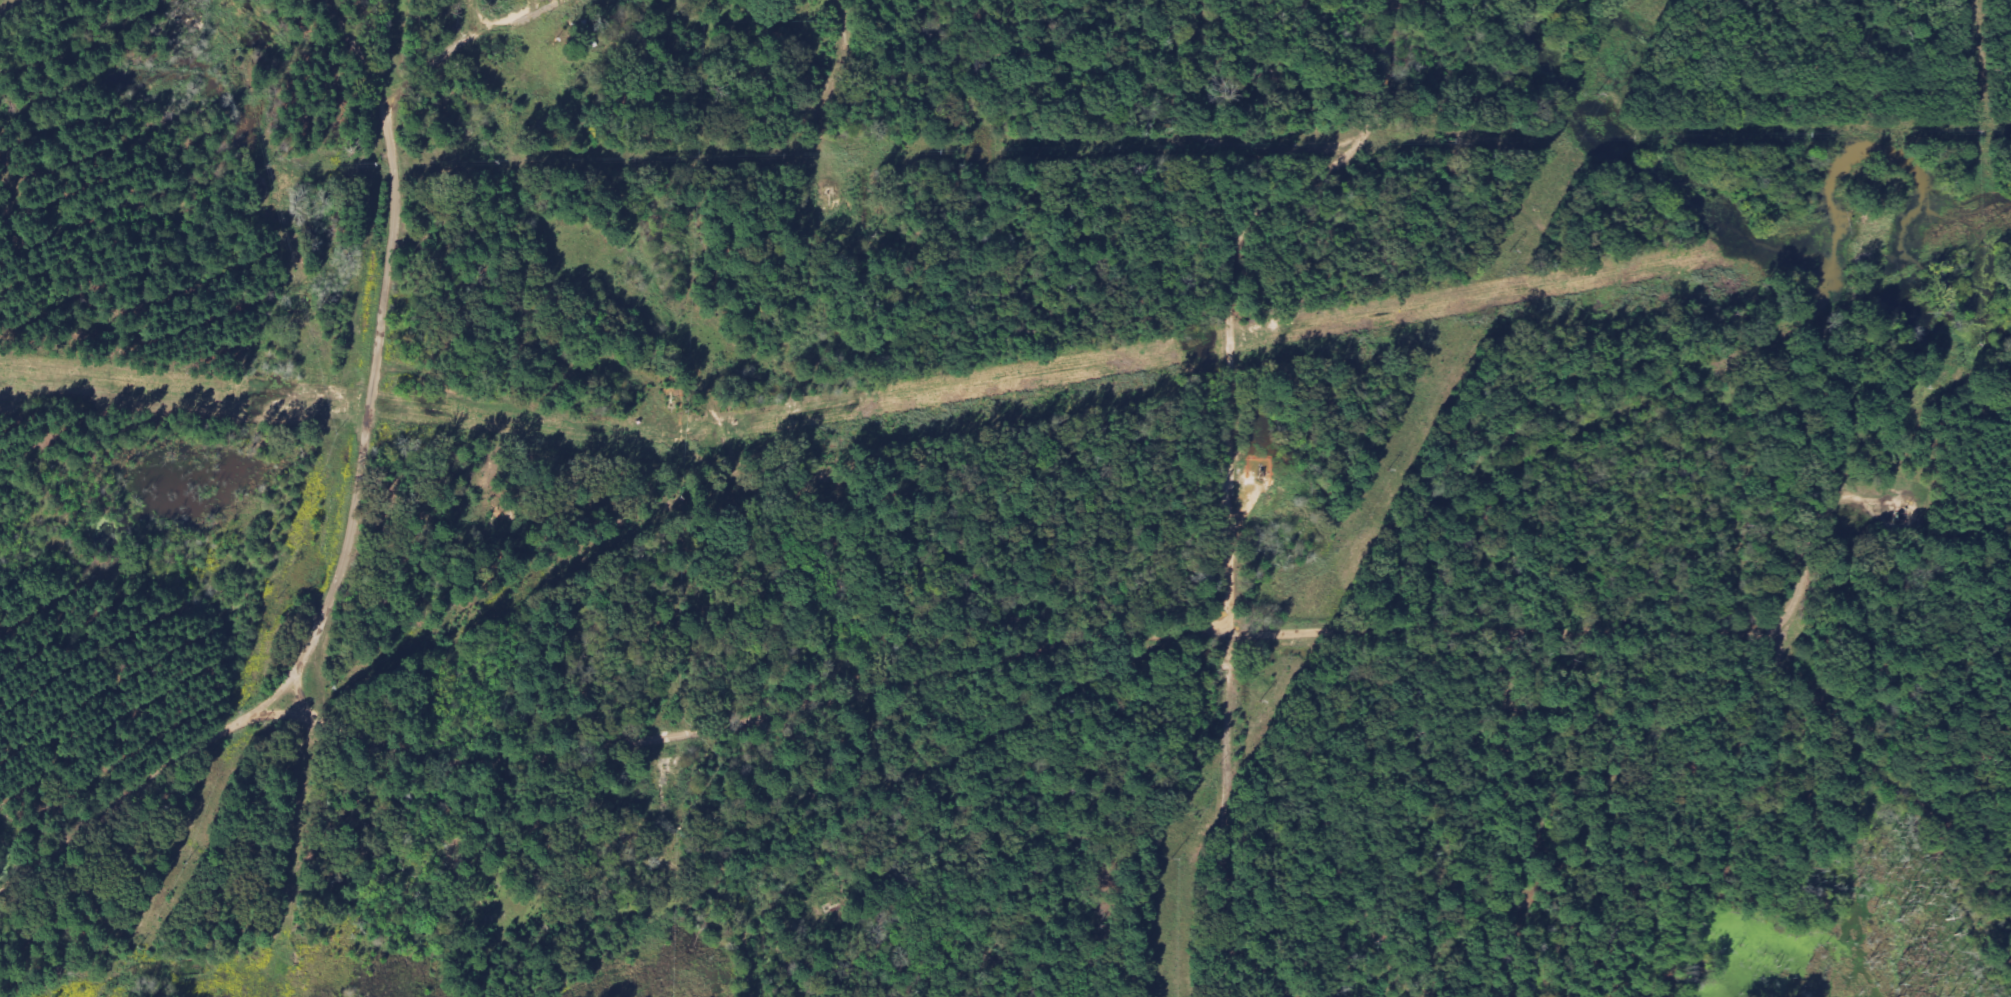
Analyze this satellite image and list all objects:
road: (918, 676)

